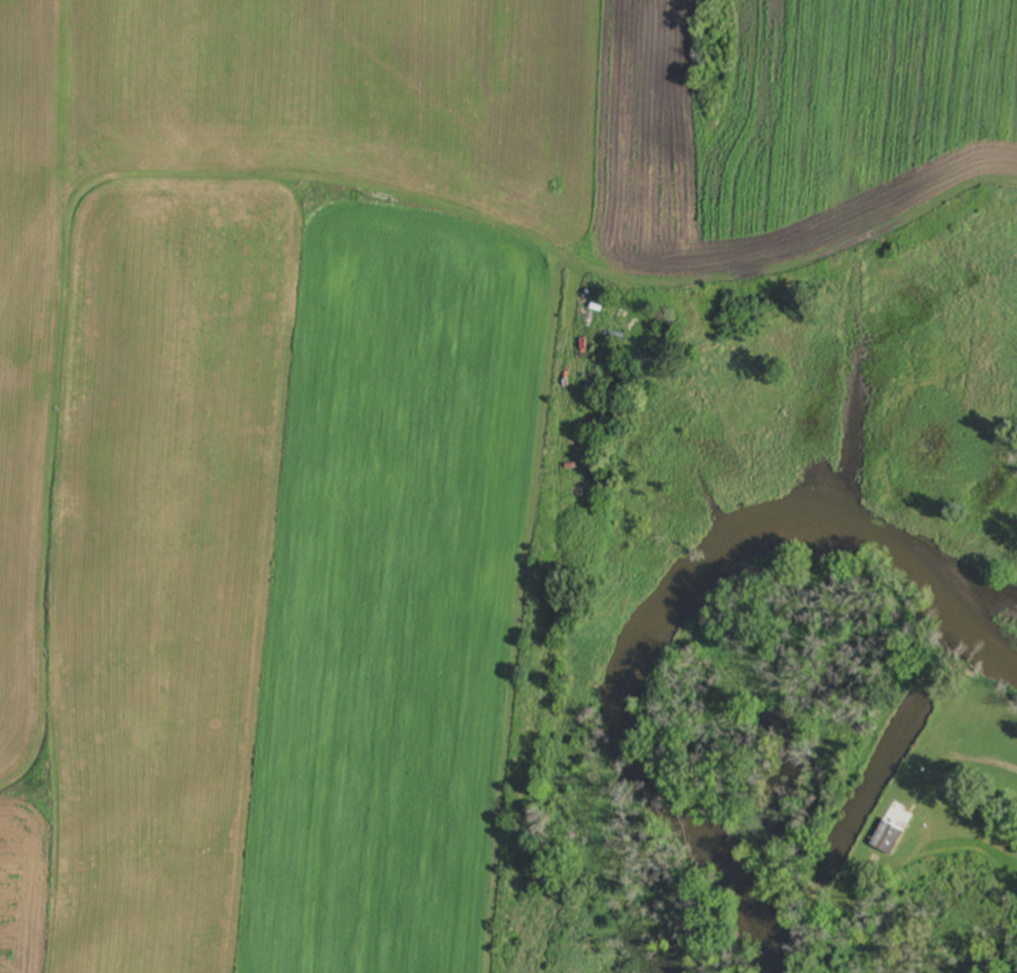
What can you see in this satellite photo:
river: (673, 613)
road: (998, 765)
building: (891, 830)

